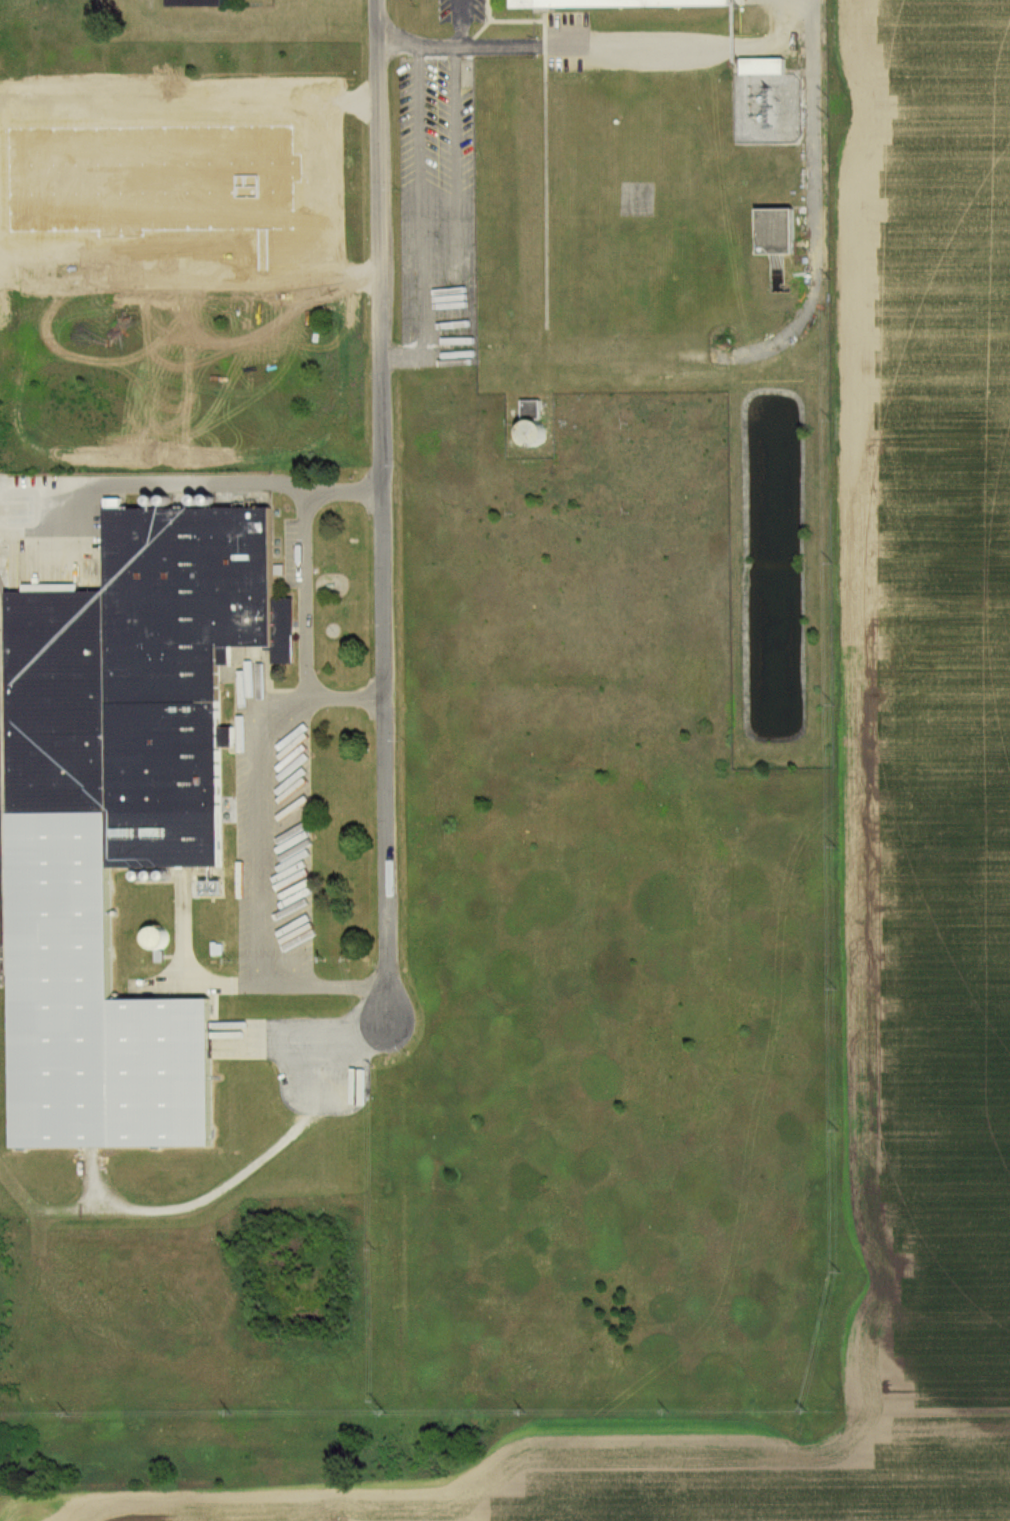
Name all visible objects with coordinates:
building: (621, 3)
road: (461, 22)
road: (603, 47)
building: (759, 68)
road: (813, 180)
road: (423, 223)
building: (770, 233)
building: (527, 423)
road: (176, 486)
road: (385, 492)
road: (345, 699)
crop: (931, 707)
road: (288, 748)
building: (121, 817)
building: (148, 941)
railway: (0, 943)
crop: (641, 1479)

